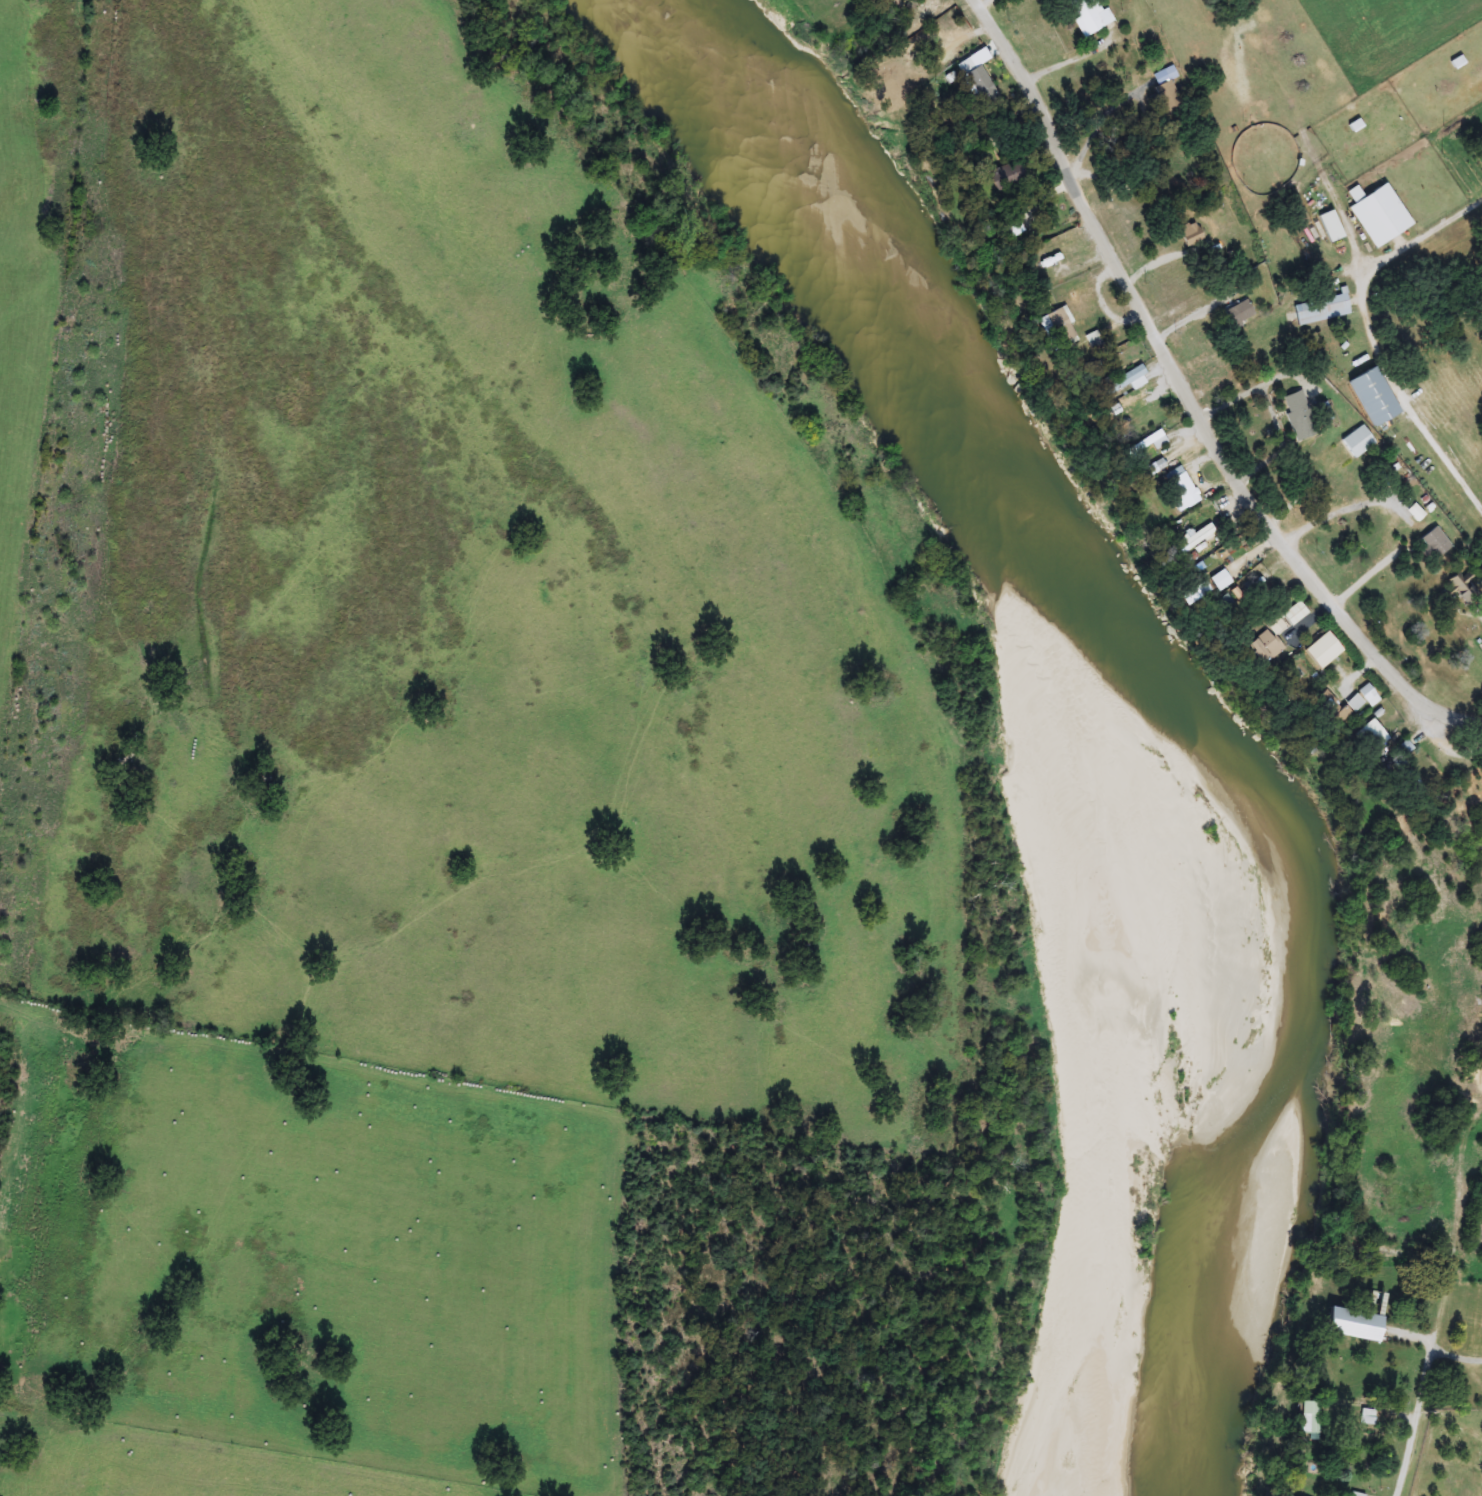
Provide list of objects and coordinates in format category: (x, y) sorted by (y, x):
building: (1088, 16)
road: (1069, 62)
building: (981, 85)
building: (1167, 94)
building: (1007, 175)
building: (1379, 214)
building: (1331, 226)
building: (1014, 227)
building: (1191, 233)
building: (1322, 309)
building: (1239, 312)
building: (1058, 328)
road: (1369, 336)
building: (1125, 382)
building: (1374, 396)
road: (1191, 401)
building: (1134, 402)
building: (1299, 416)
building: (1358, 442)
building: (1180, 489)
building: (1195, 537)
building: (1434, 544)
building: (1221, 580)
building: (1463, 589)
building: (1295, 613)
building: (1266, 646)
river: (1173, 685)
building: (1369, 696)
building: (1348, 709)
building: (1371, 737)
building: (1404, 750)
building: (1355, 1325)
road: (1437, 1354)
building: (1367, 1417)
building: (1310, 1419)
building: (1355, 1495)

